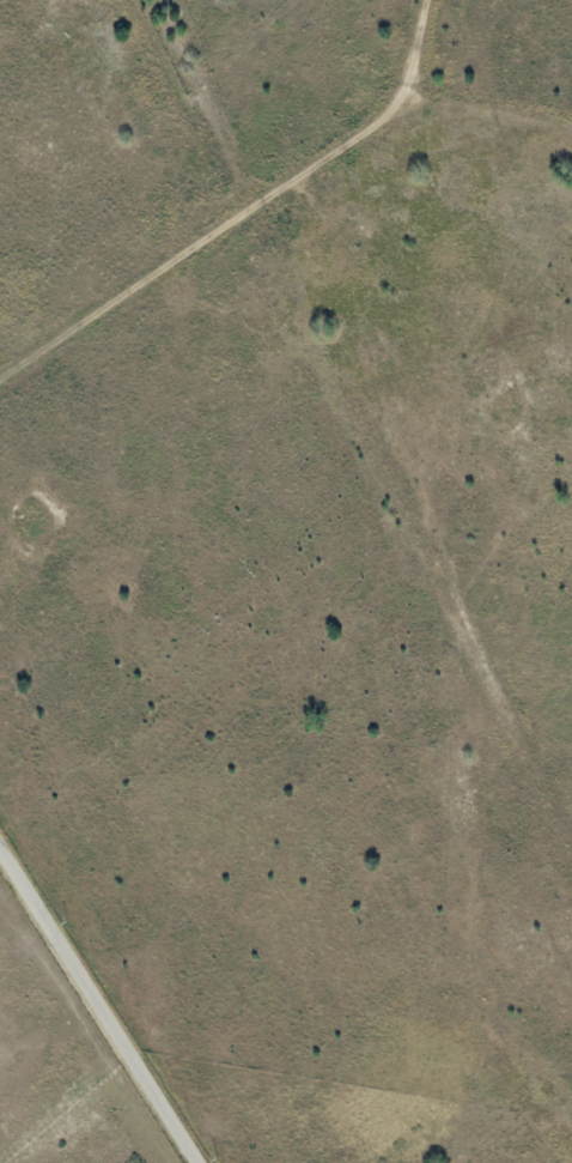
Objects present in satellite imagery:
road: (469, 90)
road: (272, 281)
road: (101, 1000)

